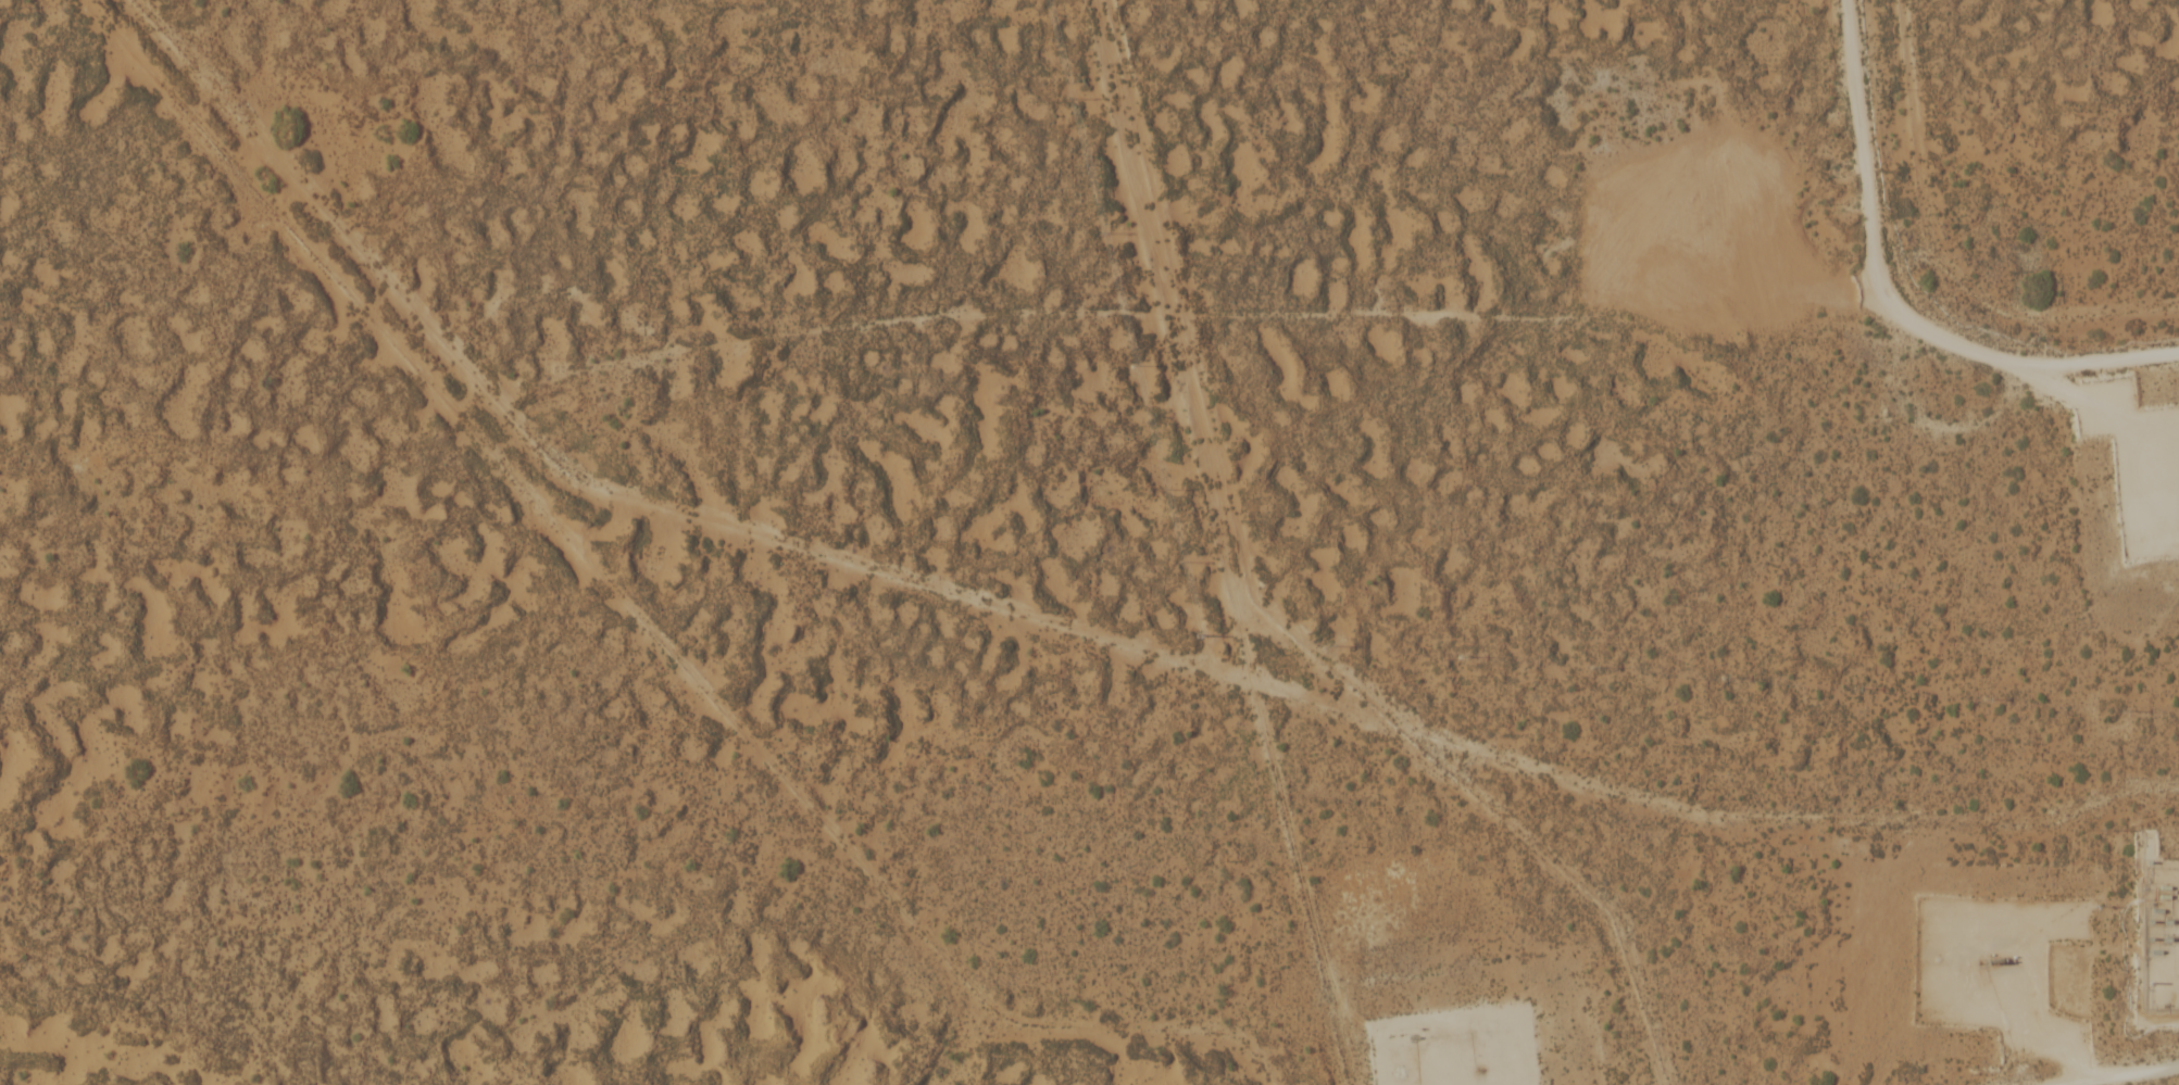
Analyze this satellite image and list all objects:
road: (1863, 147)
road: (1955, 341)
road: (2078, 1052)
road: (2106, 1074)

